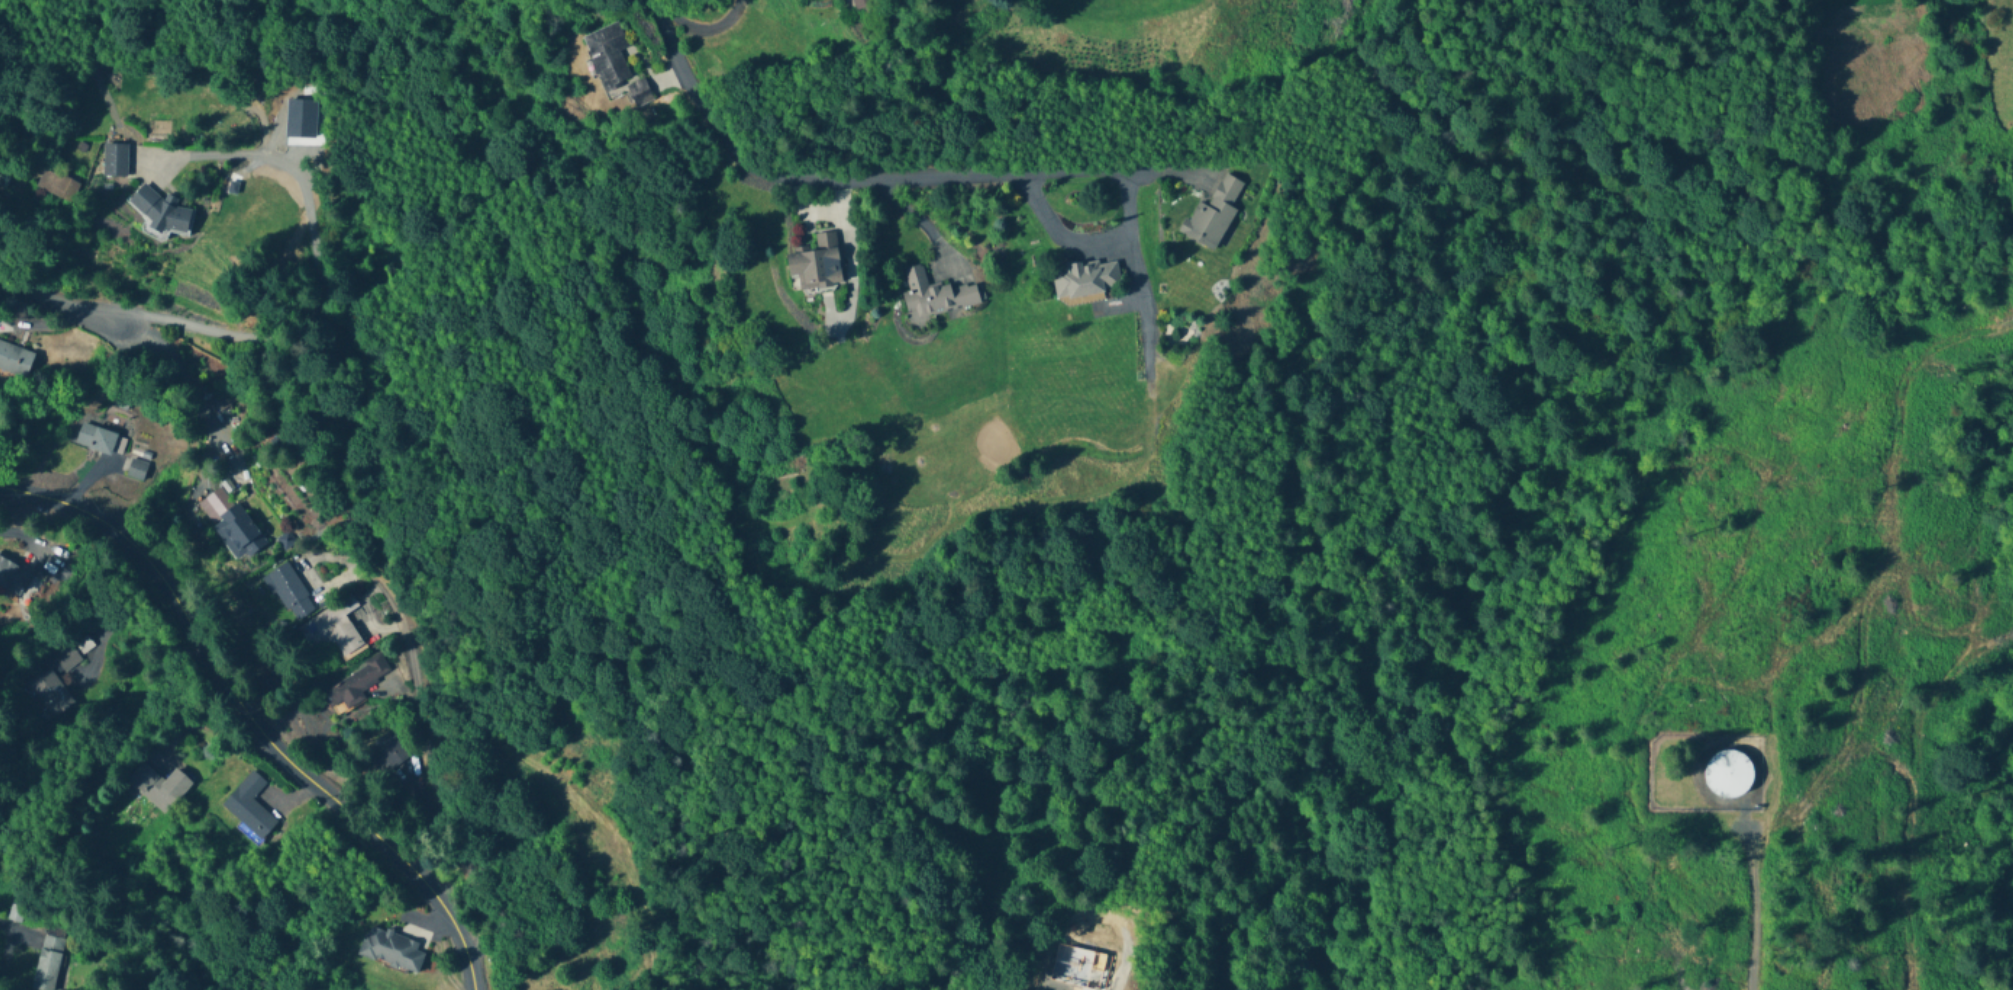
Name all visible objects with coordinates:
building: (863, 5)
building: (608, 55)
building: (639, 93)
building: (116, 161)
road: (851, 182)
building: (57, 187)
building: (164, 214)
building: (1212, 216)
road: (1084, 245)
road: (317, 255)
building: (816, 265)
building: (1086, 279)
building: (936, 296)
road: (69, 302)
building: (15, 361)
road: (191, 385)
building: (100, 441)
building: (137, 470)
building: (239, 531)
road: (21, 536)
building: (13, 575)
building: (289, 592)
building: (333, 630)
building: (66, 658)
building: (354, 685)
building: (49, 691)
road: (254, 717)
road: (210, 727)
building: (390, 750)
building: (1729, 773)
road: (439, 782)
building: (157, 787)
building: (249, 806)
building: (14, 914)
road: (1752, 915)
road: (16, 928)
building: (391, 949)
building: (47, 962)

